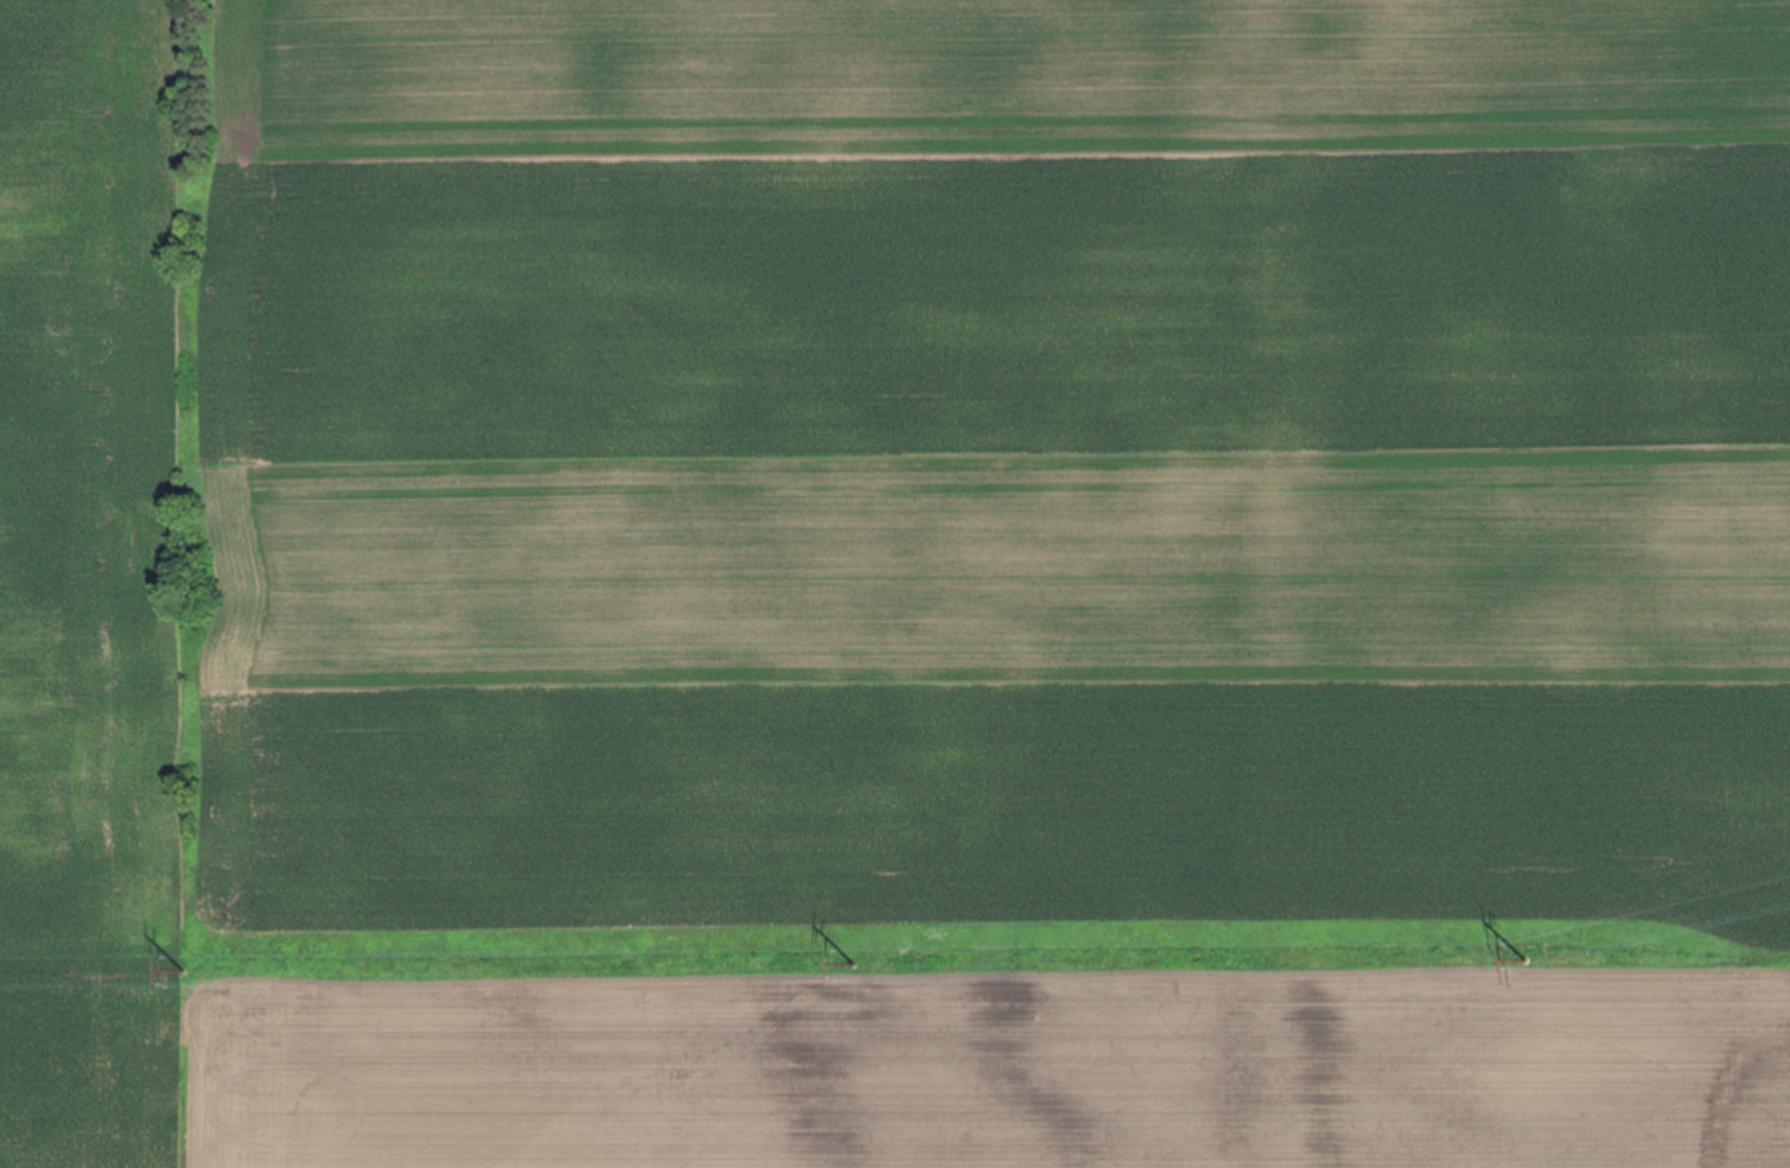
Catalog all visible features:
power tower: (1527, 952)
power tower: (855, 956)
power tower: (185, 962)

